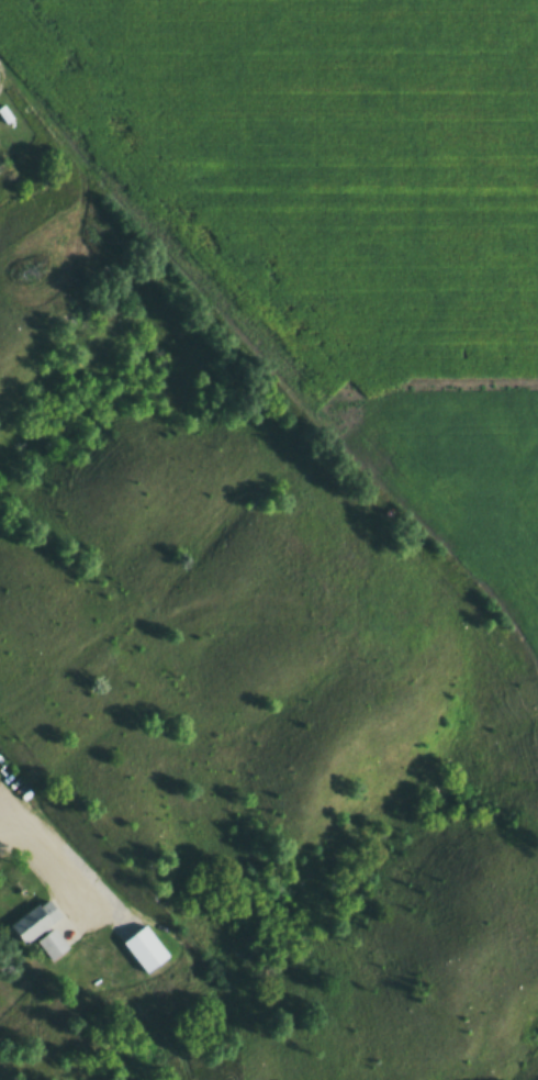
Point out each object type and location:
park: (1, 68)
building: (4, 112)
road: (56, 849)
building: (48, 910)
building: (66, 935)
building: (156, 940)
building: (52, 944)

